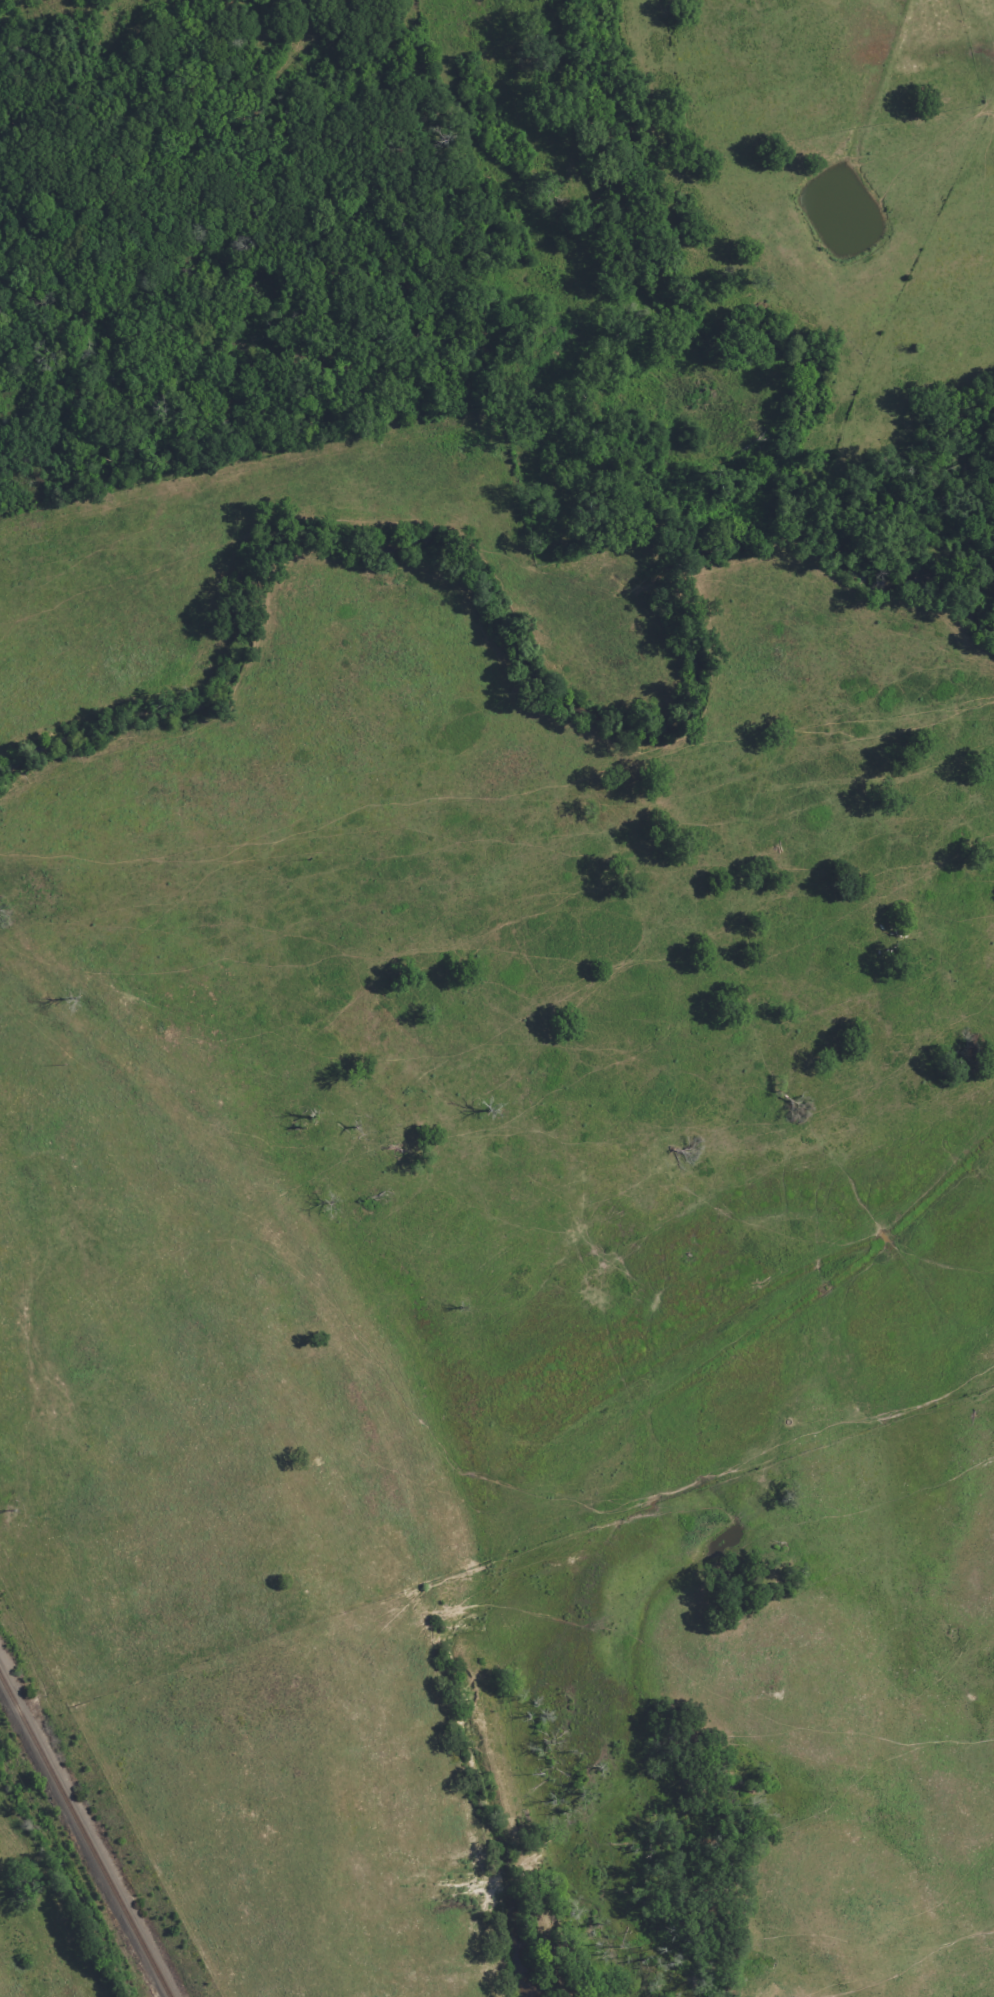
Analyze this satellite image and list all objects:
railway: (83, 1839)

